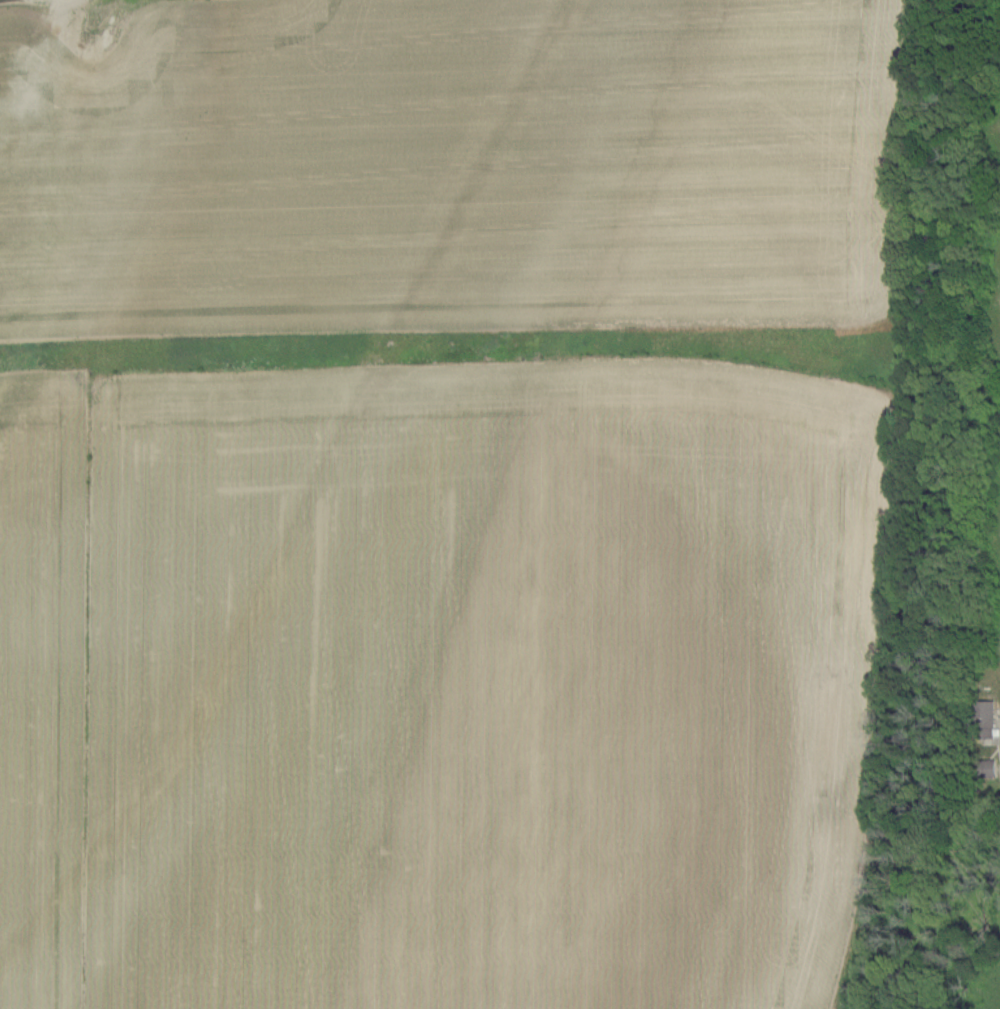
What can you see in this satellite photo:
building: (987, 718)

